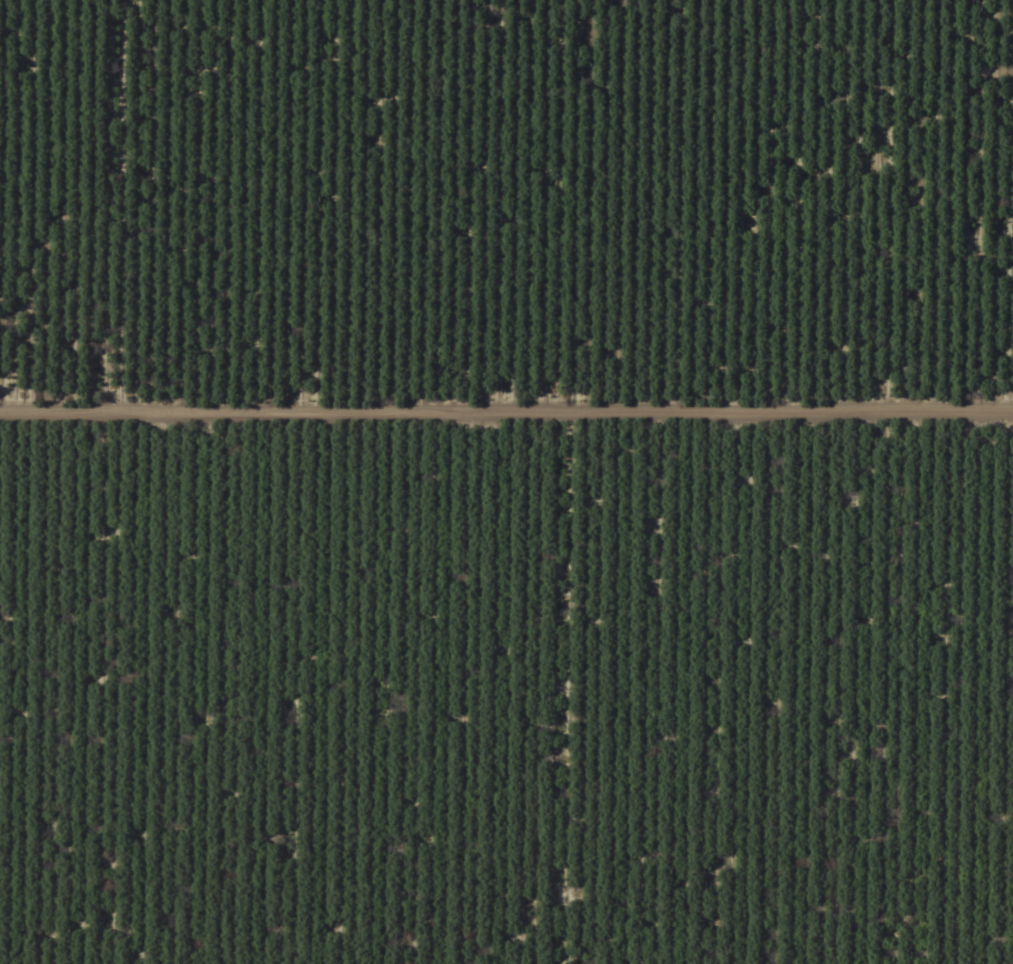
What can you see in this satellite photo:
road: (506, 385)
crop: (506, 482)

